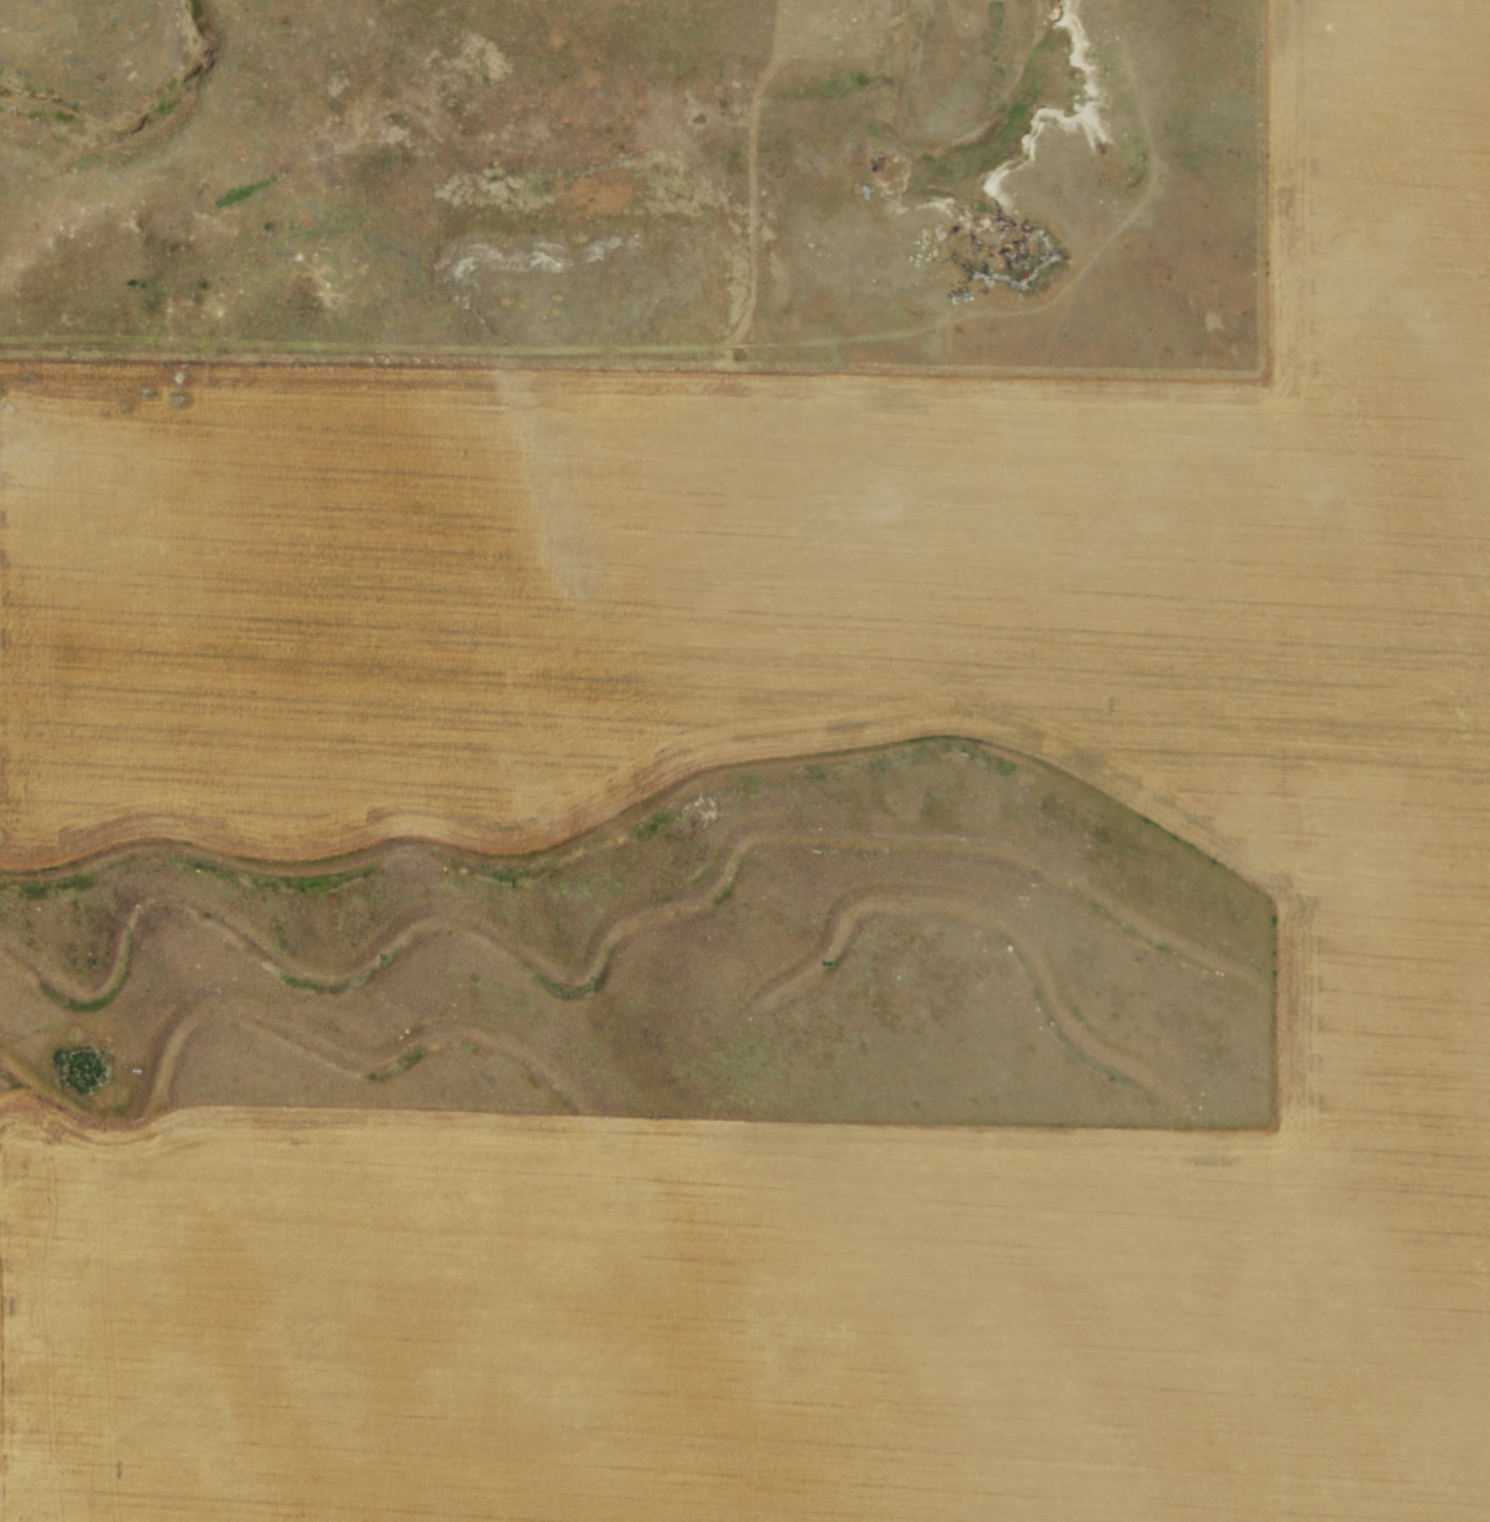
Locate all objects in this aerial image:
crop: (361, 764)

